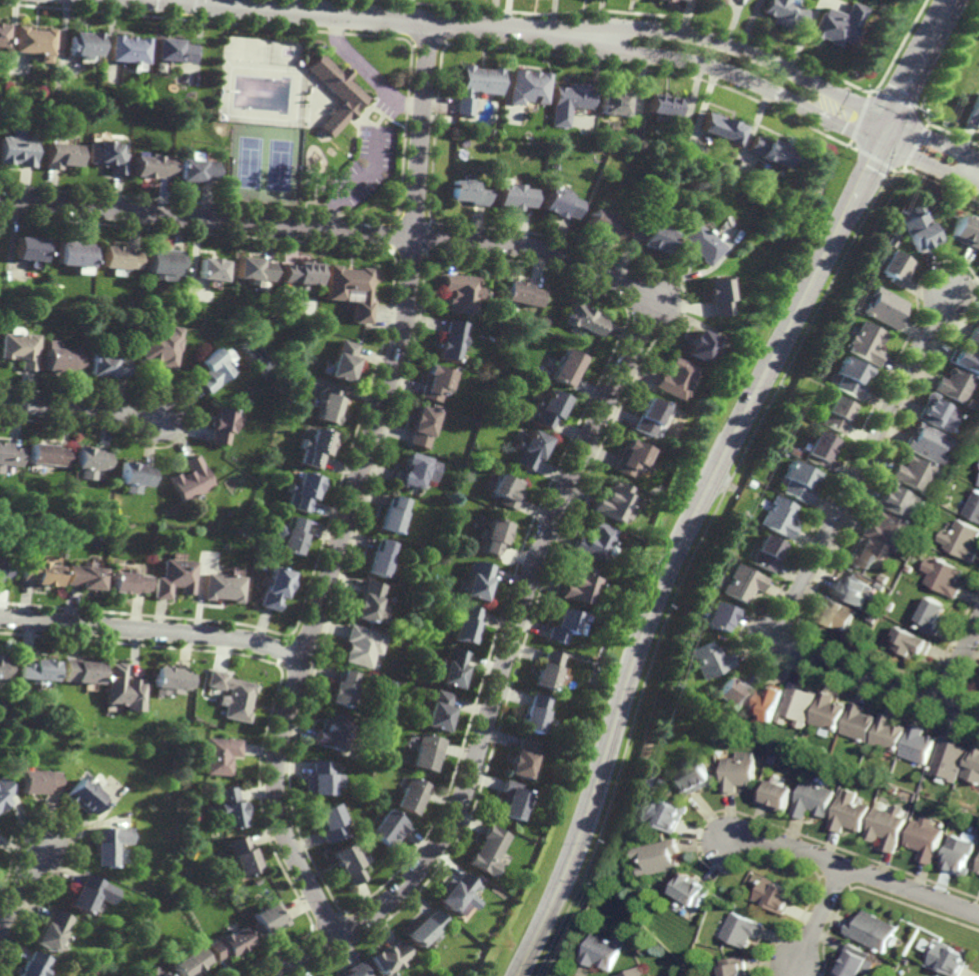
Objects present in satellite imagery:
building: (666, 0)
building: (684, 0)
building: (720, 1)
building: (784, 13)
road: (365, 17)
building: (838, 25)
building: (0, 30)
building: (31, 41)
building: (82, 43)
road: (731, 43)
building: (128, 47)
building: (172, 49)
road: (723, 69)
road: (366, 71)
building: (476, 85)
building: (529, 86)
road: (308, 91)
building: (335, 92)
building: (571, 102)
building: (616, 102)
building: (667, 105)
parking lot: (383, 107)
building: (973, 112)
building: (724, 128)
road: (936, 140)
building: (16, 151)
building: (771, 151)
building: (59, 155)
building: (106, 156)
park: (247, 162)
park: (278, 164)
parking lot: (350, 164)
road: (930, 164)
building: (150, 166)
building: (192, 168)
parking lot: (384, 169)
road: (359, 182)
building: (468, 192)
building: (512, 196)
building: (702, 199)
building: (558, 203)
building: (603, 225)
building: (917, 229)
building: (965, 232)
building: (895, 234)
building: (648, 235)
building: (890, 242)
building: (697, 243)
building: (25, 249)
building: (72, 256)
building: (116, 258)
building: (160, 264)
building: (893, 267)
building: (203, 269)
building: (247, 270)
building: (294, 274)
building: (347, 289)
building: (460, 293)
building: (519, 294)
building: (715, 296)
building: (883, 308)
building: (582, 319)
building: (975, 335)
building: (450, 341)
building: (864, 343)
building: (695, 346)
building: (159, 347)
building: (18, 348)
building: (966, 359)
building: (60, 361)
building: (339, 363)
building: (106, 367)
road: (624, 367)
building: (213, 369)
building: (565, 370)
building: (848, 377)
building: (671, 379)
building: (434, 384)
building: (954, 386)
building: (973, 403)
road: (78, 407)
building: (325, 407)
building: (545, 410)
building: (938, 413)
building: (835, 415)
building: (645, 418)
building: (217, 427)
building: (420, 428)
building: (926, 442)
building: (311, 450)
building: (817, 450)
building: (525, 452)
building: (46, 457)
building: (9, 458)
building: (629, 460)
building: (91, 464)
building: (409, 473)
building: (913, 474)
road: (711, 477)
building: (135, 479)
building: (189, 481)
building: (796, 482)
road: (354, 488)
building: (502, 493)
building: (298, 495)
building: (894, 500)
building: (609, 503)
building: (973, 508)
building: (391, 516)
building: (778, 518)
building: (881, 531)
building: (288, 539)
building: (487, 540)
building: (962, 542)
building: (591, 544)
building: (895, 548)
building: (767, 555)
building: (862, 555)
road: (816, 556)
building: (379, 558)
building: (5, 569)
building: (910, 570)
building: (40, 573)
building: (86, 574)
building: (176, 575)
building: (129, 578)
building: (944, 578)
building: (474, 579)
building: (883, 579)
building: (743, 583)
building: (222, 584)
building: (271, 584)
building: (575, 584)
building: (853, 588)
building: (879, 588)
building: (366, 599)
building: (891, 606)
building: (836, 612)
building: (381, 614)
building: (719, 614)
building: (934, 616)
building: (874, 618)
building: (462, 621)
building: (560, 622)
road: (152, 629)
building: (915, 640)
building: (360, 644)
building: (711, 659)
building: (591, 660)
road: (960, 663)
building: (4, 665)
building: (449, 665)
building: (545, 667)
building: (36, 668)
building: (82, 669)
building: (173, 677)
building: (0, 679)
building: (340, 687)
building: (125, 688)
building: (733, 691)
building: (232, 694)
building: (770, 701)
building: (799, 703)
building: (1, 705)
building: (436, 709)
building: (534, 710)
building: (830, 712)
building: (861, 721)
building: (330, 730)
building: (892, 732)
building: (797, 740)
building: (723, 743)
building: (921, 743)
building: (812, 748)
building: (424, 750)
building: (221, 755)
building: (523, 755)
building: (951, 759)
building: (973, 764)
building: (740, 770)
building: (696, 777)
building: (318, 778)
building: (39, 780)
building: (656, 780)
building: (5, 790)
building: (408, 794)
building: (776, 794)
building: (85, 795)
building: (512, 798)
building: (815, 799)
building: (228, 807)
building: (665, 812)
building: (851, 812)
building: (327, 821)
building: (890, 827)
building: (384, 828)
building: (927, 838)
building: (108, 844)
building: (489, 850)
building: (959, 853)
building: (240, 855)
building: (661, 857)
building: (344, 862)
road: (857, 871)
building: (978, 871)
road: (21, 884)
building: (692, 891)
building: (84, 893)
building: (457, 894)
building: (778, 894)
road: (820, 917)
building: (267, 918)
building: (426, 928)
building: (744, 929)
building: (50, 930)
building: (876, 930)
building: (229, 943)
building: (603, 951)
building: (390, 958)
building: (951, 959)
building: (857, 962)
building: (190, 963)
building: (30, 965)
building: (737, 967)
building: (355, 970)
building: (154, 972)
building: (636, 972)
building: (939, 975)

